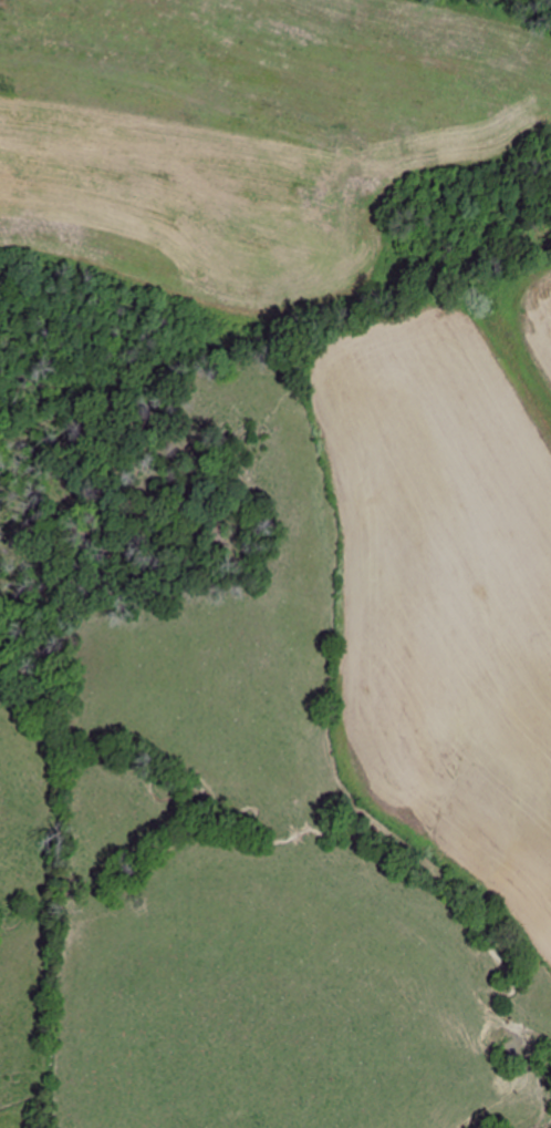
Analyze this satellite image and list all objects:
road: (498, 992)

